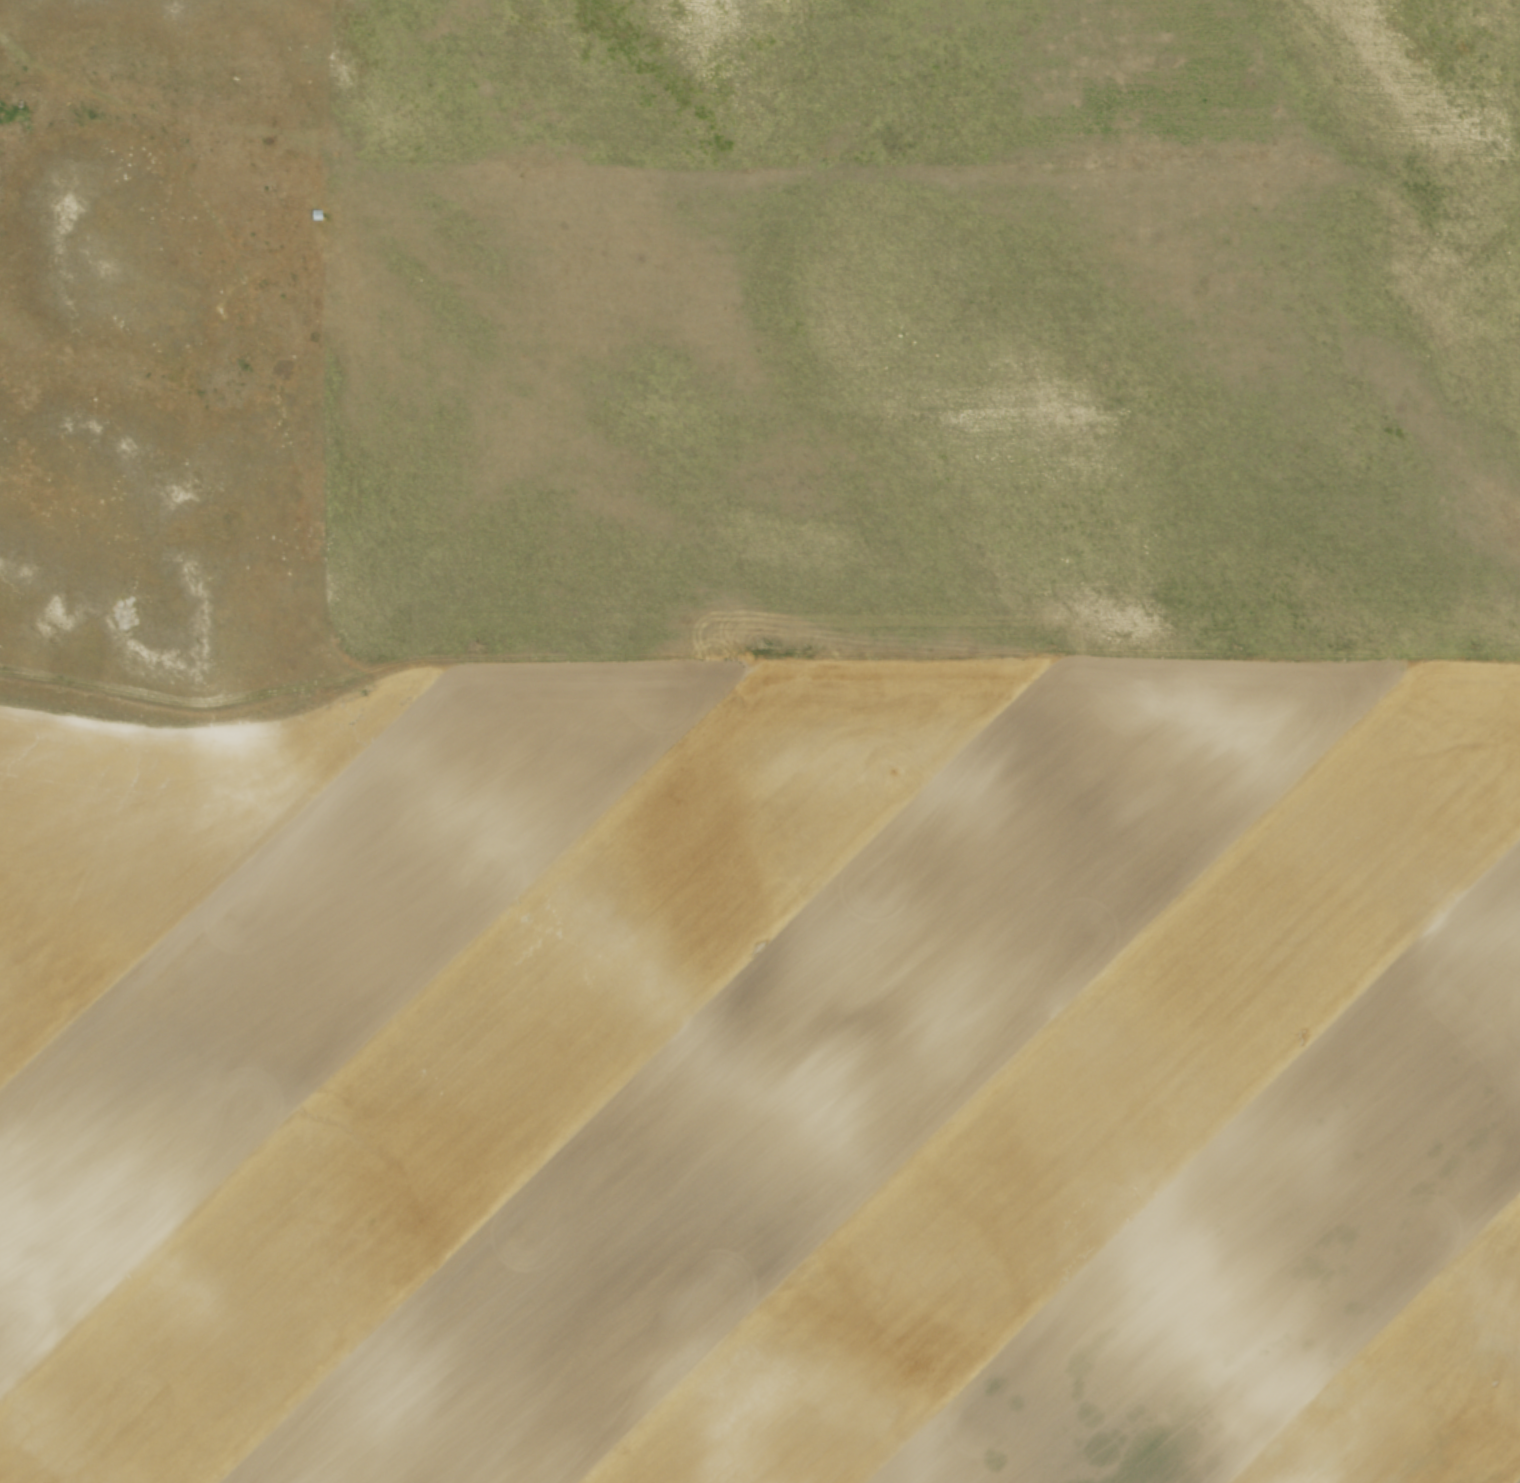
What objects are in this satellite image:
crop: (769, 1076)

